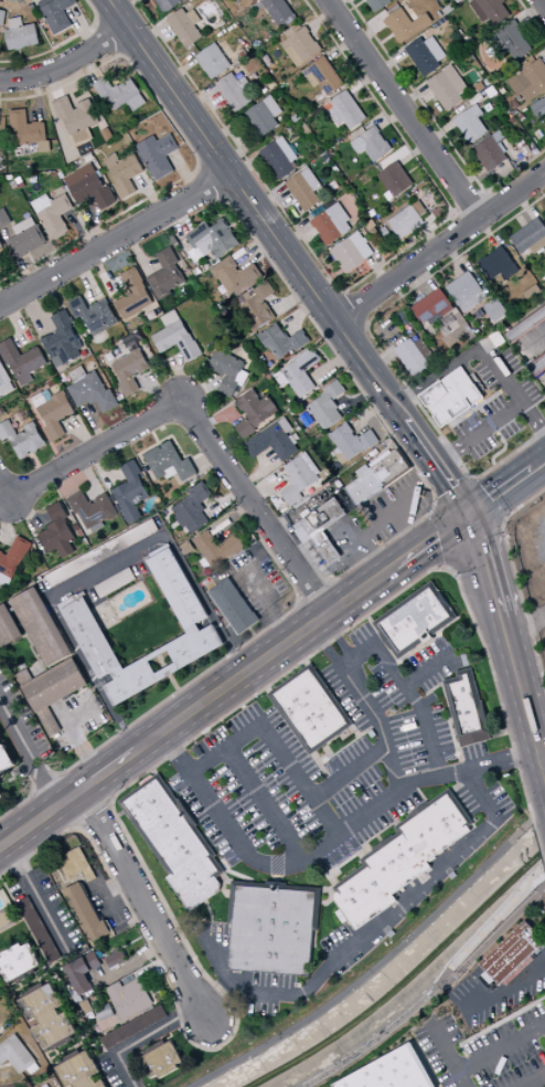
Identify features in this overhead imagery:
building: (460, 0)
building: (0, 1)
building: (29, 1)
building: (254, 1)
road: (333, 2)
road: (543, 2)
road: (359, 3)
building: (378, 3)
building: (168, 4)
road: (370, 6)
road: (128, 7)
building: (395, 9)
building: (494, 10)
road: (116, 11)
building: (478, 11)
building: (281, 12)
road: (346, 12)
road: (531, 12)
building: (417, 13)
building: (57, 14)
building: (194, 17)
building: (2, 18)
road: (321, 18)
road: (532, 18)
road: (98, 20)
building: (17, 22)
building: (406, 23)
building: (184, 28)
road: (82, 29)
road: (152, 32)
road: (368, 32)
building: (22, 36)
road: (488, 36)
road: (111, 38)
building: (511, 41)
road: (139, 42)
road: (61, 44)
building: (288, 44)
building: (302, 46)
road: (341, 48)
building: (435, 49)
building: (244, 54)
road: (121, 55)
building: (421, 56)
road: (544, 59)
building: (214, 61)
road: (66, 62)
road: (391, 63)
road: (88, 66)
road: (505, 66)
road: (181, 71)
building: (324, 76)
building: (534, 80)
road: (363, 82)
building: (245, 83)
building: (520, 83)
road: (53, 84)
building: (284, 86)
building: (445, 87)
building: (459, 88)
building: (490, 91)
building: (117, 92)
building: (234, 92)
road: (414, 96)
road: (39, 98)
road: (201, 98)
building: (138, 102)
building: (515, 103)
building: (272, 106)
building: (328, 106)
building: (538, 107)
road: (404, 108)
building: (345, 110)
building: (477, 110)
building: (0, 112)
building: (75, 115)
building: (296, 117)
building: (521, 117)
building: (260, 118)
road: (392, 118)
road: (436, 124)
building: (470, 125)
building: (26, 128)
road: (440, 133)
road: (242, 134)
building: (498, 136)
building: (83, 137)
building: (481, 140)
building: (519, 141)
road: (288, 143)
building: (371, 144)
building: (150, 145)
building: (44, 146)
building: (502, 147)
road: (191, 149)
building: (525, 150)
road: (414, 152)
road: (218, 154)
building: (490, 154)
building: (161, 157)
building: (279, 158)
building: (113, 160)
road: (473, 162)
road: (200, 165)
road: (247, 167)
building: (86, 171)
road: (263, 171)
building: (126, 175)
road: (183, 175)
road: (471, 178)
building: (310, 179)
building: (395, 179)
road: (214, 180)
road: (238, 183)
building: (21, 184)
road: (241, 184)
road: (485, 189)
building: (93, 190)
building: (301, 191)
road: (143, 192)
road: (150, 194)
building: (388, 196)
road: (224, 200)
road: (271, 200)
building: (42, 203)
road: (470, 203)
road: (525, 204)
road: (496, 207)
building: (372, 212)
road: (451, 213)
building: (56, 217)
road: (97, 217)
building: (339, 217)
building: (544, 217)
building: (4, 218)
road: (180, 220)
building: (405, 221)
road: (236, 224)
building: (24, 225)
road: (93, 226)
building: (327, 228)
road: (466, 229)
road: (81, 232)
road: (488, 232)
road: (296, 235)
road: (429, 236)
building: (530, 238)
road: (115, 239)
building: (28, 241)
building: (213, 243)
building: (1, 245)
road: (440, 246)
road: (257, 249)
building: (351, 252)
road: (140, 257)
road: (455, 257)
building: (495, 263)
road: (378, 272)
road: (22, 273)
building: (168, 274)
road: (426, 275)
road: (103, 276)
building: (238, 277)
building: (499, 277)
road: (328, 281)
road: (88, 283)
road: (359, 283)
road: (342, 292)
building: (466, 292)
building: (135, 297)
road: (1, 302)
road: (288, 302)
building: (257, 305)
road: (325, 306)
building: (431, 308)
road: (352, 309)
building: (494, 309)
building: (95, 314)
road: (301, 314)
road: (34, 317)
building: (171, 318)
road: (18, 324)
road: (365, 326)
building: (526, 326)
road: (348, 337)
building: (130, 339)
building: (179, 340)
building: (63, 341)
building: (284, 341)
road: (380, 348)
building: (415, 356)
road: (380, 359)
building: (22, 360)
road: (335, 366)
building: (537, 367)
building: (228, 369)
building: (131, 370)
building: (301, 372)
building: (78, 374)
road: (504, 374)
building: (62, 377)
road: (374, 377)
building: (243, 378)
road: (178, 380)
building: (4, 381)
building: (281, 381)
road: (159, 390)
road: (199, 390)
building: (94, 392)
road: (384, 392)
building: (47, 395)
building: (453, 397)
building: (21, 399)
road: (361, 399)
building: (40, 400)
road: (392, 403)
building: (329, 404)
road: (374, 409)
building: (255, 412)
road: (222, 413)
road: (365, 413)
building: (56, 415)
road: (534, 416)
road: (192, 420)
building: (287, 424)
road: (94, 426)
road: (82, 433)
road: (152, 433)
road: (415, 436)
building: (23, 437)
building: (293, 439)
building: (353, 441)
road: (3, 442)
building: (274, 443)
road: (233, 451)
road: (535, 453)
building: (341, 455)
road: (206, 461)
building: (170, 462)
building: (388, 462)
road: (38, 466)
building: (312, 466)
road: (413, 466)
road: (101, 468)
road: (438, 468)
building: (171, 472)
road: (259, 472)
road: (90, 476)
road: (398, 477)
building: (299, 479)
road: (493, 483)
building: (364, 485)
road: (54, 486)
road: (266, 486)
road: (416, 490)
road: (2, 492)
building: (131, 492)
road: (455, 493)
building: (340, 494)
road: (455, 494)
road: (371, 497)
road: (484, 499)
road: (3, 500)
road: (224, 500)
road: (509, 500)
road: (436, 504)
road: (45, 506)
building: (93, 508)
building: (194, 508)
building: (119, 509)
road: (28, 513)
building: (306, 514)
traffic signals: (467, 514)
road: (237, 515)
road: (374, 521)
road: (6, 524)
building: (76, 527)
building: (98, 527)
road: (405, 528)
building: (58, 529)
building: (323, 529)
gas station: (331, 529)
road: (446, 529)
building: (217, 532)
road: (345, 536)
road: (475, 538)
road: (430, 539)
building: (218, 547)
building: (189, 548)
road: (328, 548)
road: (371, 550)
building: (103, 552)
building: (14, 558)
road: (310, 561)
road: (448, 562)
road: (489, 563)
building: (206, 564)
road: (107, 567)
road: (515, 577)
building: (6, 581)
road: (328, 581)
building: (115, 582)
road: (257, 582)
road: (314, 593)
road: (299, 601)
road: (205, 603)
road: (340, 604)
building: (233, 606)
building: (196, 620)
road: (317, 621)
building: (416, 621)
building: (9, 626)
building: (42, 626)
road: (250, 633)
road: (28, 634)
road: (438, 635)
road: (336, 639)
road: (431, 640)
road: (32, 642)
road: (325, 646)
road: (33, 653)
road: (392, 653)
road: (361, 654)
road: (265, 657)
road: (306, 663)
road: (428, 668)
road: (92, 674)
road: (270, 683)
road: (173, 684)
building: (53, 690)
road: (268, 690)
road: (175, 693)
road: (524, 693)
road: (330, 697)
building: (468, 708)
building: (312, 709)
road: (450, 717)
road: (291, 724)
road: (355, 732)
road: (74, 734)
road: (349, 742)
road: (275, 747)
road: (29, 753)
building: (6, 759)
road: (322, 769)
road: (107, 770)
road: (469, 770)
road: (153, 772)
road: (349, 772)
road: (460, 784)
road: (450, 792)
building: (2, 795)
parking lot: (355, 796)
road: (109, 801)
road: (266, 804)
road: (93, 810)
road: (120, 814)
road: (39, 817)
road: (79, 824)
road: (189, 825)
road: (397, 826)
road: (474, 831)
road: (378, 834)
road: (378, 838)
building: (175, 841)
road: (382, 843)
road: (539, 843)
road: (364, 852)
road: (366, 856)
building: (400, 857)
road: (257, 862)
building: (78, 866)
road: (223, 880)
road: (275, 886)
road: (336, 886)
road: (114, 887)
road: (327, 889)
road: (207, 897)
road: (38, 898)
road: (128, 905)
road: (143, 905)
road: (103, 907)
road: (316, 909)
building: (85, 912)
building: (6, 920)
road: (131, 921)
road: (211, 924)
road: (493, 925)
building: (271, 927)
building: (38, 929)
road: (495, 930)
road: (375, 931)
road: (313, 938)
road: (132, 942)
building: (511, 952)
building: (115, 958)
building: (17, 962)
road: (130, 965)
building: (79, 971)
road: (503, 993)
road: (216, 996)
building: (128, 998)
building: (104, 1013)
building: (44, 1015)
building: (132, 1027)
road: (378, 1036)
road: (142, 1038)
road: (502, 1048)
road: (448, 1053)
building: (17, 1055)
building: (161, 1059)
building: (76, 1070)
building: (389, 1072)
road: (533, 1080)

